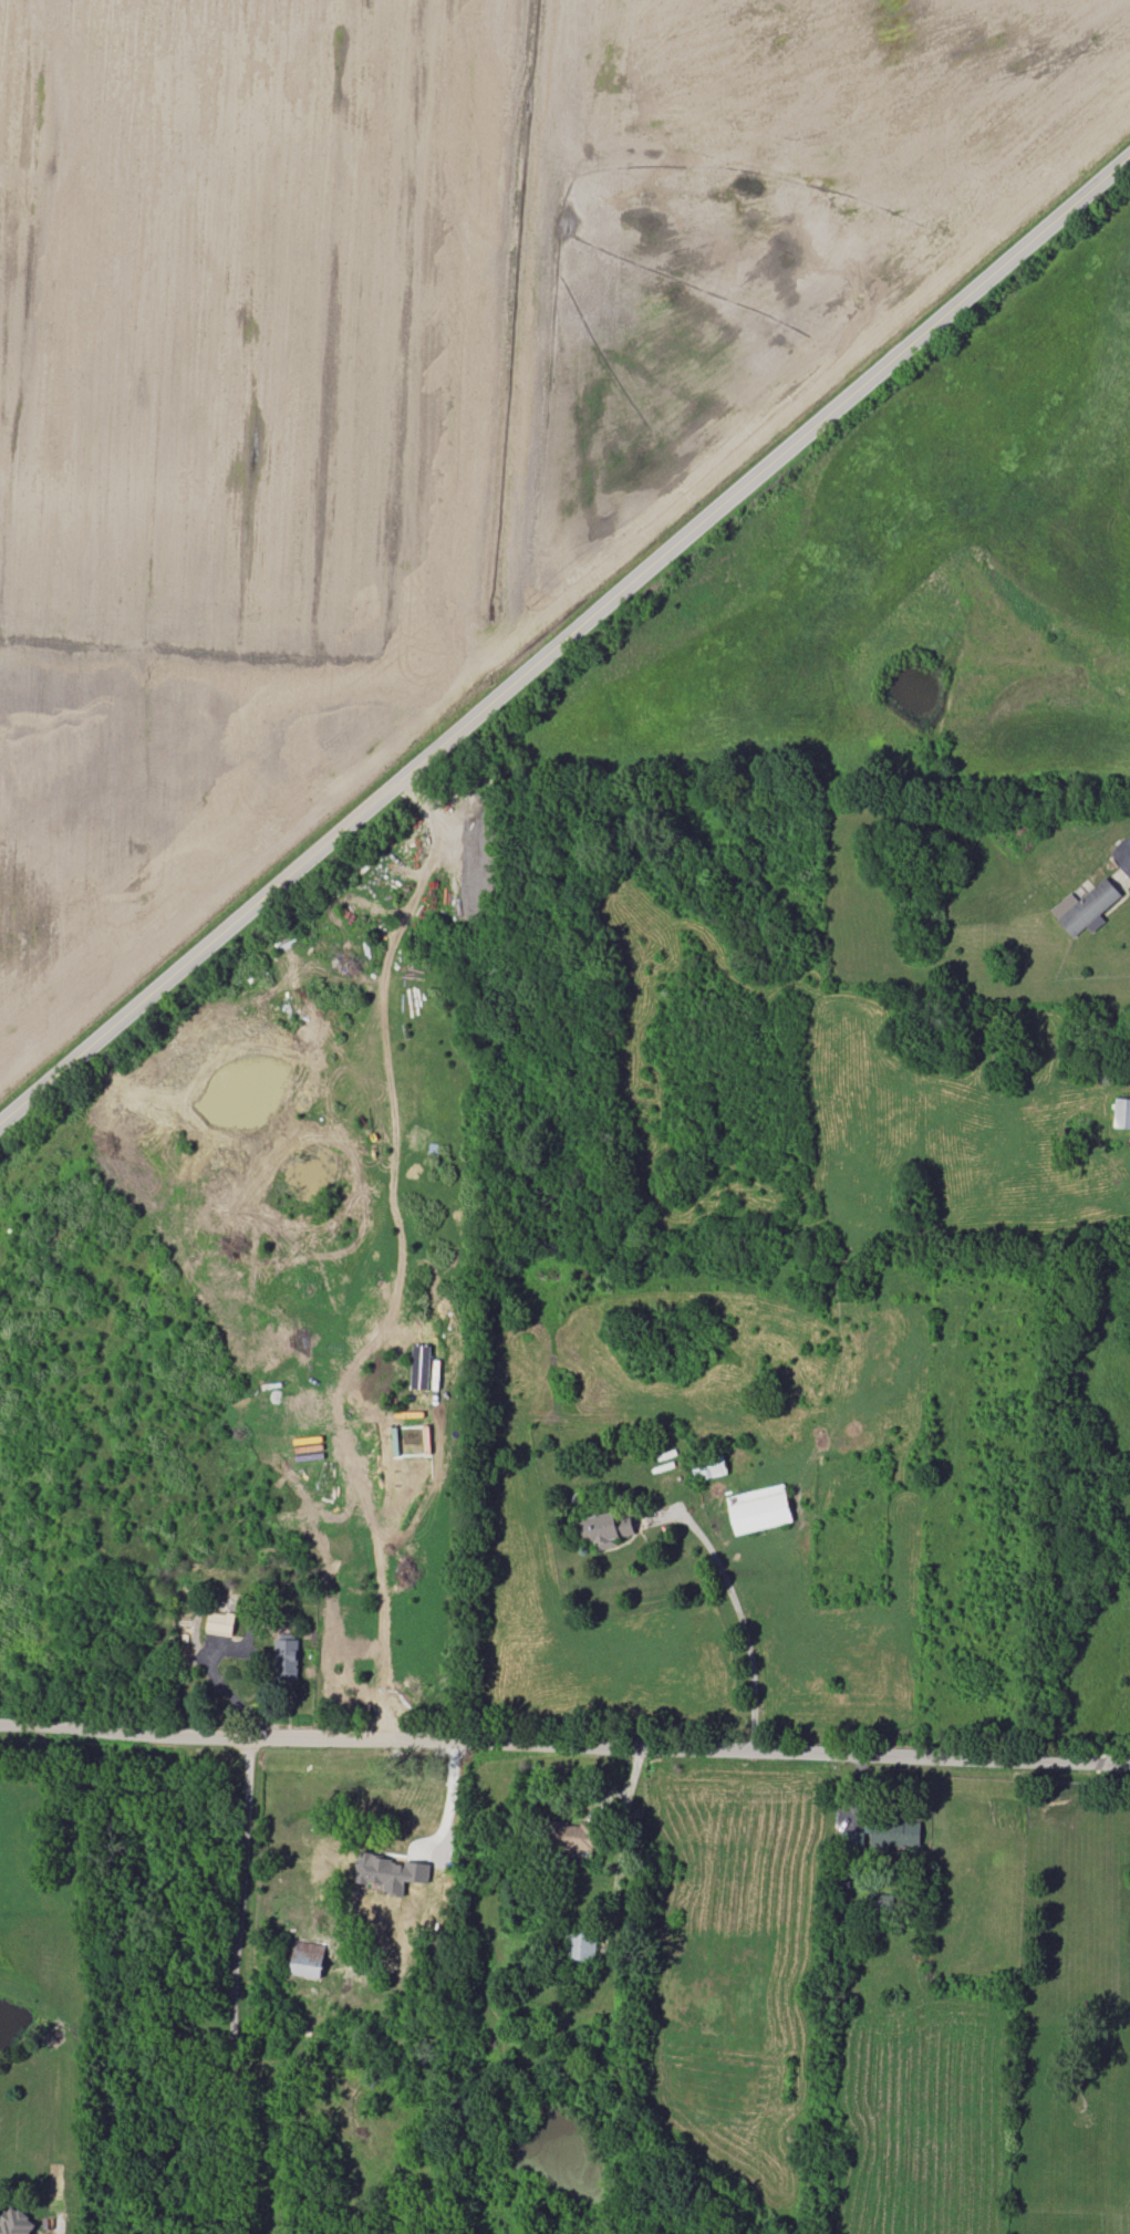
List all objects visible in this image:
crop: (413, 364)
road: (564, 633)
building: (1086, 907)
building: (1121, 1112)
road: (396, 1257)
building: (421, 1367)
building: (708, 1467)
building: (760, 1509)
building: (603, 1528)
road: (729, 1609)
building: (220, 1623)
building: (286, 1656)
road: (564, 1739)
road: (448, 1799)
building: (573, 1835)
building: (884, 1836)
road: (622, 1845)
building: (390, 1872)
building: (878, 1903)
building: (580, 1944)
building: (308, 1958)
road: (234, 1983)
building: (14, 2222)

